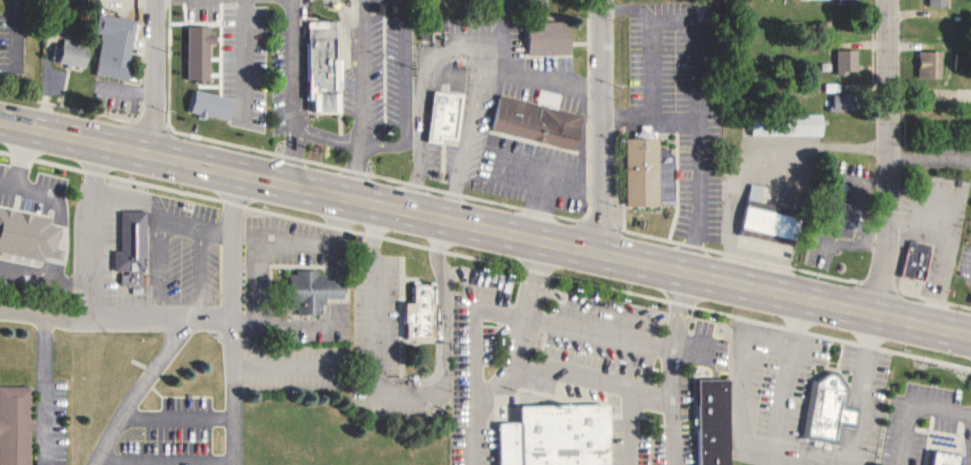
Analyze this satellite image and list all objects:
building: (851, 1)
building: (939, 2)
building: (536, 43)
building: (117, 47)
building: (202, 51)
building: (72, 54)
building: (848, 60)
building: (963, 61)
building: (933, 63)
road: (153, 77)
building: (846, 100)
building: (214, 104)
building: (197, 113)
building: (447, 115)
building: (525, 126)
road: (599, 127)
building: (774, 130)
road: (878, 156)
building: (650, 171)
building: (627, 178)
building: (856, 210)
road: (485, 228)
building: (757, 228)
building: (30, 234)
building: (134, 248)
building: (919, 260)
building: (904, 266)
building: (317, 291)
building: (424, 311)
building: (829, 410)
building: (16, 425)
building: (700, 426)
building: (560, 435)
building: (941, 458)

